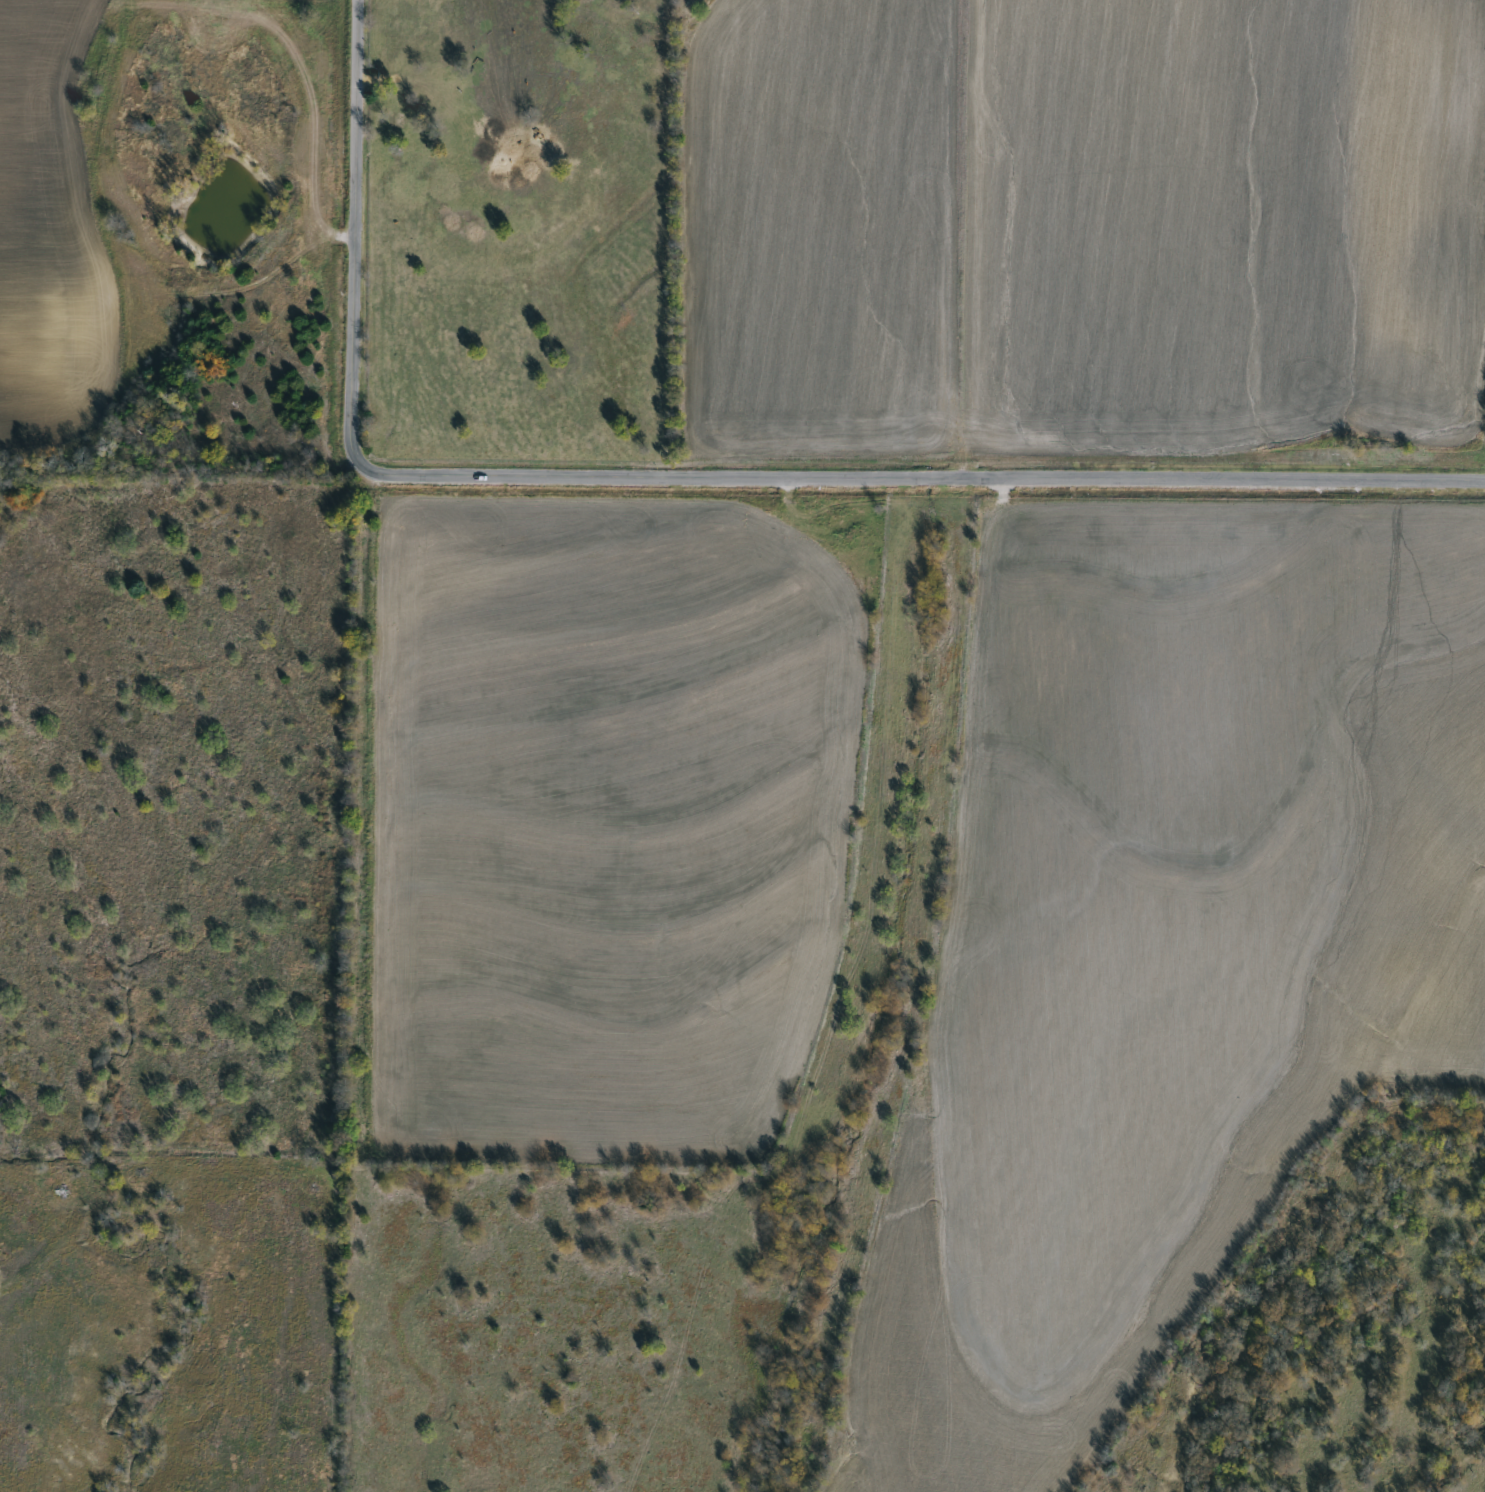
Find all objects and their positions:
road: (690, 483)

